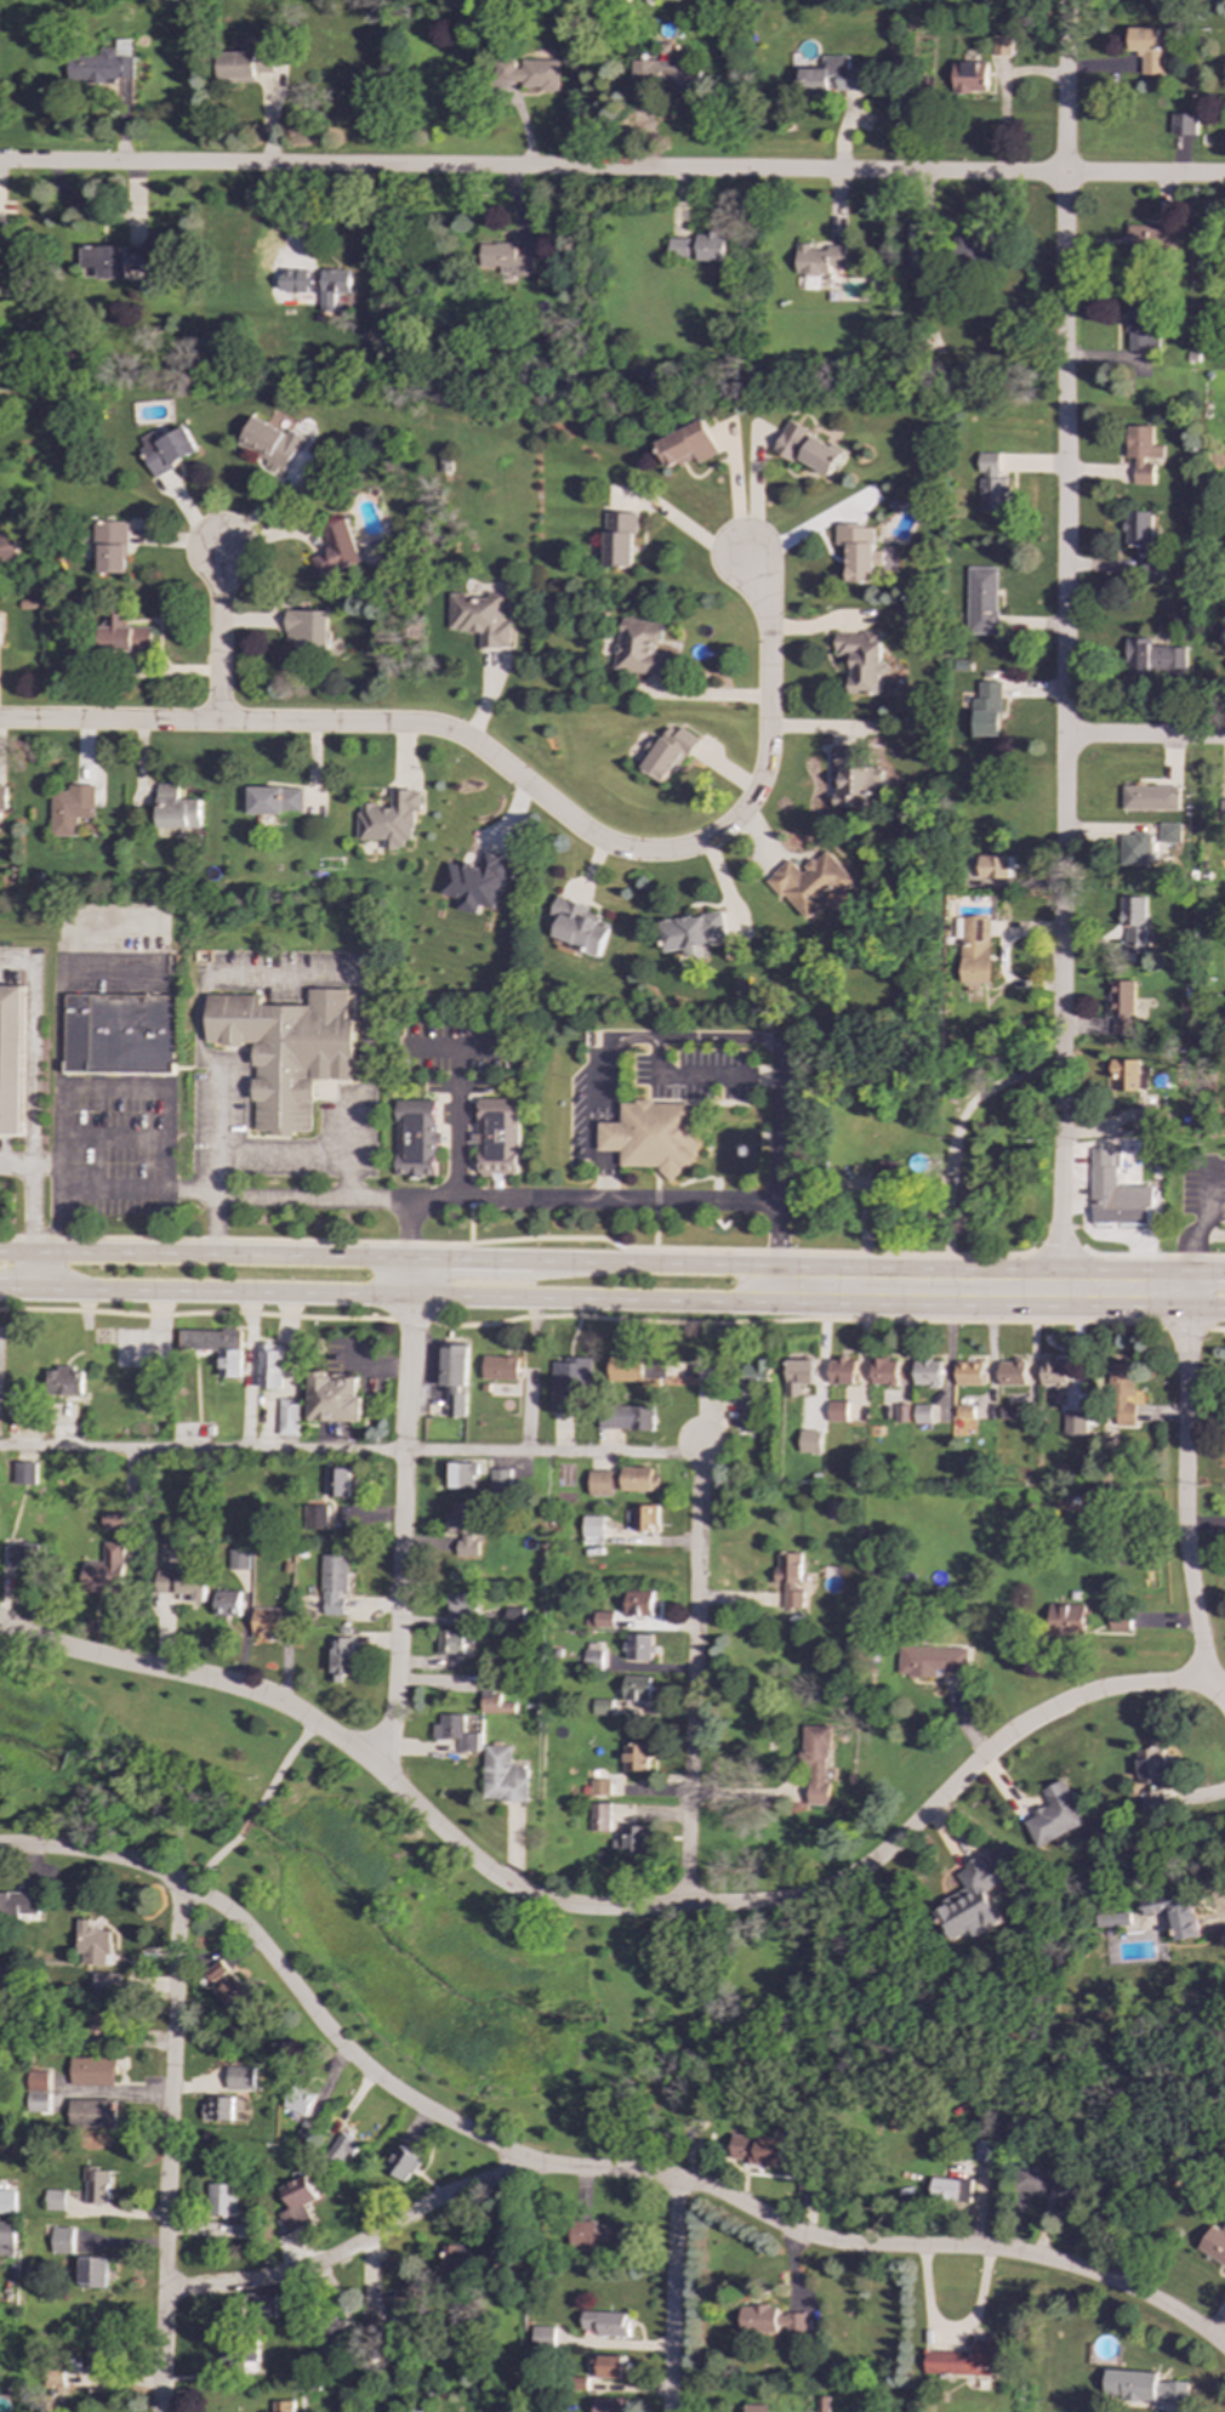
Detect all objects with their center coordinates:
building: (1001, 46)
building: (1147, 49)
building: (246, 66)
building: (104, 72)
building: (529, 73)
building: (661, 75)
building: (831, 78)
building: (969, 78)
building: (1183, 124)
road: (611, 170)
building: (6, 233)
building: (1145, 243)
building: (677, 246)
building: (710, 246)
building: (924, 251)
building: (974, 251)
building: (505, 258)
building: (817, 258)
building: (114, 261)
building: (298, 280)
building: (335, 290)
building: (1139, 323)
building: (267, 443)
building: (686, 444)
building: (165, 449)
building: (807, 449)
building: (1141, 453)
building: (991, 482)
road: (753, 491)
building: (1138, 530)
building: (617, 539)
building: (109, 546)
building: (6, 548)
building: (336, 548)
building: (862, 552)
building: (981, 599)
building: (479, 618)
building: (306, 628)
building: (120, 632)
road: (1065, 635)
road: (218, 636)
building: (639, 648)
building: (1153, 656)
building: (862, 660)
building: (987, 709)
road: (1145, 736)
building: (668, 753)
road: (514, 774)
building: (851, 776)
building: (2, 796)
building: (1150, 797)
building: (270, 800)
building: (70, 808)
building: (175, 808)
building: (1221, 812)
building: (391, 819)
building: (1169, 832)
building: (1135, 848)
building: (992, 866)
building: (475, 882)
building: (1132, 925)
building: (579, 926)
building: (693, 933)
building: (974, 949)
road: (251, 971)
building: (1122, 1006)
building: (118, 1033)
road: (722, 1036)
building: (286, 1051)
building: (11, 1058)
road: (59, 1060)
building: (1128, 1075)
building: (1145, 1114)
road: (457, 1119)
building: (495, 1133)
road: (956, 1133)
building: (653, 1134)
building: (415, 1138)
road: (279, 1155)
road: (29, 1164)
building: (1113, 1191)
road: (420, 1195)
road: (32, 1207)
building: (967, 1210)
road: (411, 1225)
road: (515, 1239)
road: (206, 1252)
road: (1126, 1256)
road: (472, 1258)
road: (859, 1264)
road: (59, 1269)
road: (1206, 1273)
road: (412, 1275)
road: (780, 1280)
road: (1059, 1285)
road: (29, 1287)
road: (1186, 1287)
road: (237, 1290)
road: (819, 1297)
road: (610, 1318)
building: (216, 1347)
building: (270, 1366)
building: (498, 1367)
building: (625, 1367)
road: (251, 1371)
building: (842, 1371)
building: (884, 1371)
building: (927, 1372)
building: (969, 1372)
building: (1012, 1372)
building: (1053, 1372)
road: (532, 1373)
building: (798, 1375)
building: (754, 1376)
building: (454, 1377)
building: (64, 1381)
building: (568, 1382)
building: (1121, 1395)
building: (332, 1398)
building: (13, 1403)
building: (836, 1411)
building: (964, 1411)
building: (900, 1412)
building: (1007, 1412)
building: (748, 1413)
building: (922, 1413)
building: (287, 1416)
building: (626, 1417)
building: (809, 1441)
road: (351, 1452)
building: (462, 1473)
building: (639, 1479)
building: (501, 1480)
building: (337, 1481)
building: (600, 1483)
road: (1185, 1496)
building: (314, 1517)
building: (645, 1518)
building: (113, 1521)
building: (465, 1528)
building: (593, 1530)
road: (403, 1531)
building: (24, 1554)
building: (238, 1558)
building: (106, 1570)
building: (790, 1577)
building: (182, 1583)
building: (334, 1583)
building: (228, 1603)
building: (638, 1603)
building: (462, 1604)
building: (599, 1619)
building: (1118, 1619)
building: (1066, 1620)
building: (267, 1622)
road: (695, 1634)
building: (455, 1640)
building: (638, 1646)
building: (343, 1657)
building: (592, 1657)
building: (930, 1660)
building: (637, 1690)
building: (494, 1700)
building: (602, 1706)
building: (456, 1731)
building: (634, 1756)
building: (814, 1762)
road: (284, 1764)
building: (1150, 1765)
building: (505, 1775)
building: (600, 1787)
building: (1152, 1798)
building: (1054, 1814)
building: (599, 1816)
road: (247, 1822)
building: (634, 1841)
road: (210, 1860)
building: (973, 1900)
building: (19, 1904)
road: (606, 1908)
park: (378, 1910)
building: (1173, 1912)
building: (1116, 1919)
road: (1223, 1924)
building: (93, 1942)
building: (104, 1984)
building: (228, 1986)
building: (99, 2025)
building: (93, 2071)
building: (240, 2077)
building: (38, 2082)
building: (304, 2103)
building: (220, 2107)
building: (92, 2114)
building: (341, 2148)
road: (169, 2149)
building: (759, 2150)
building: (986, 2150)
building: (403, 2163)
road: (575, 2168)
building: (1035, 2180)
building: (811, 2184)
building: (96, 2185)
building: (952, 2189)
building: (1070, 2190)
building: (223, 2198)
building: (55, 2200)
building: (7, 2201)
building: (296, 2203)
building: (251, 2230)
building: (598, 2235)
building: (6, 2237)
building: (61, 2240)
building: (1214, 2245)
road: (355, 2247)
building: (463, 2259)
building: (92, 2272)
road: (672, 2294)
building: (405, 2298)
building: (263, 2306)
building: (773, 2320)
building: (604, 2323)
building: (370, 2326)
building: (542, 2336)
building: (964, 2360)
building: (99, 2362)
building: (610, 2366)
building: (1141, 2387)
building: (608, 2405)
building: (283, 2406)
building: (754, 2408)
building: (418, 2411)

